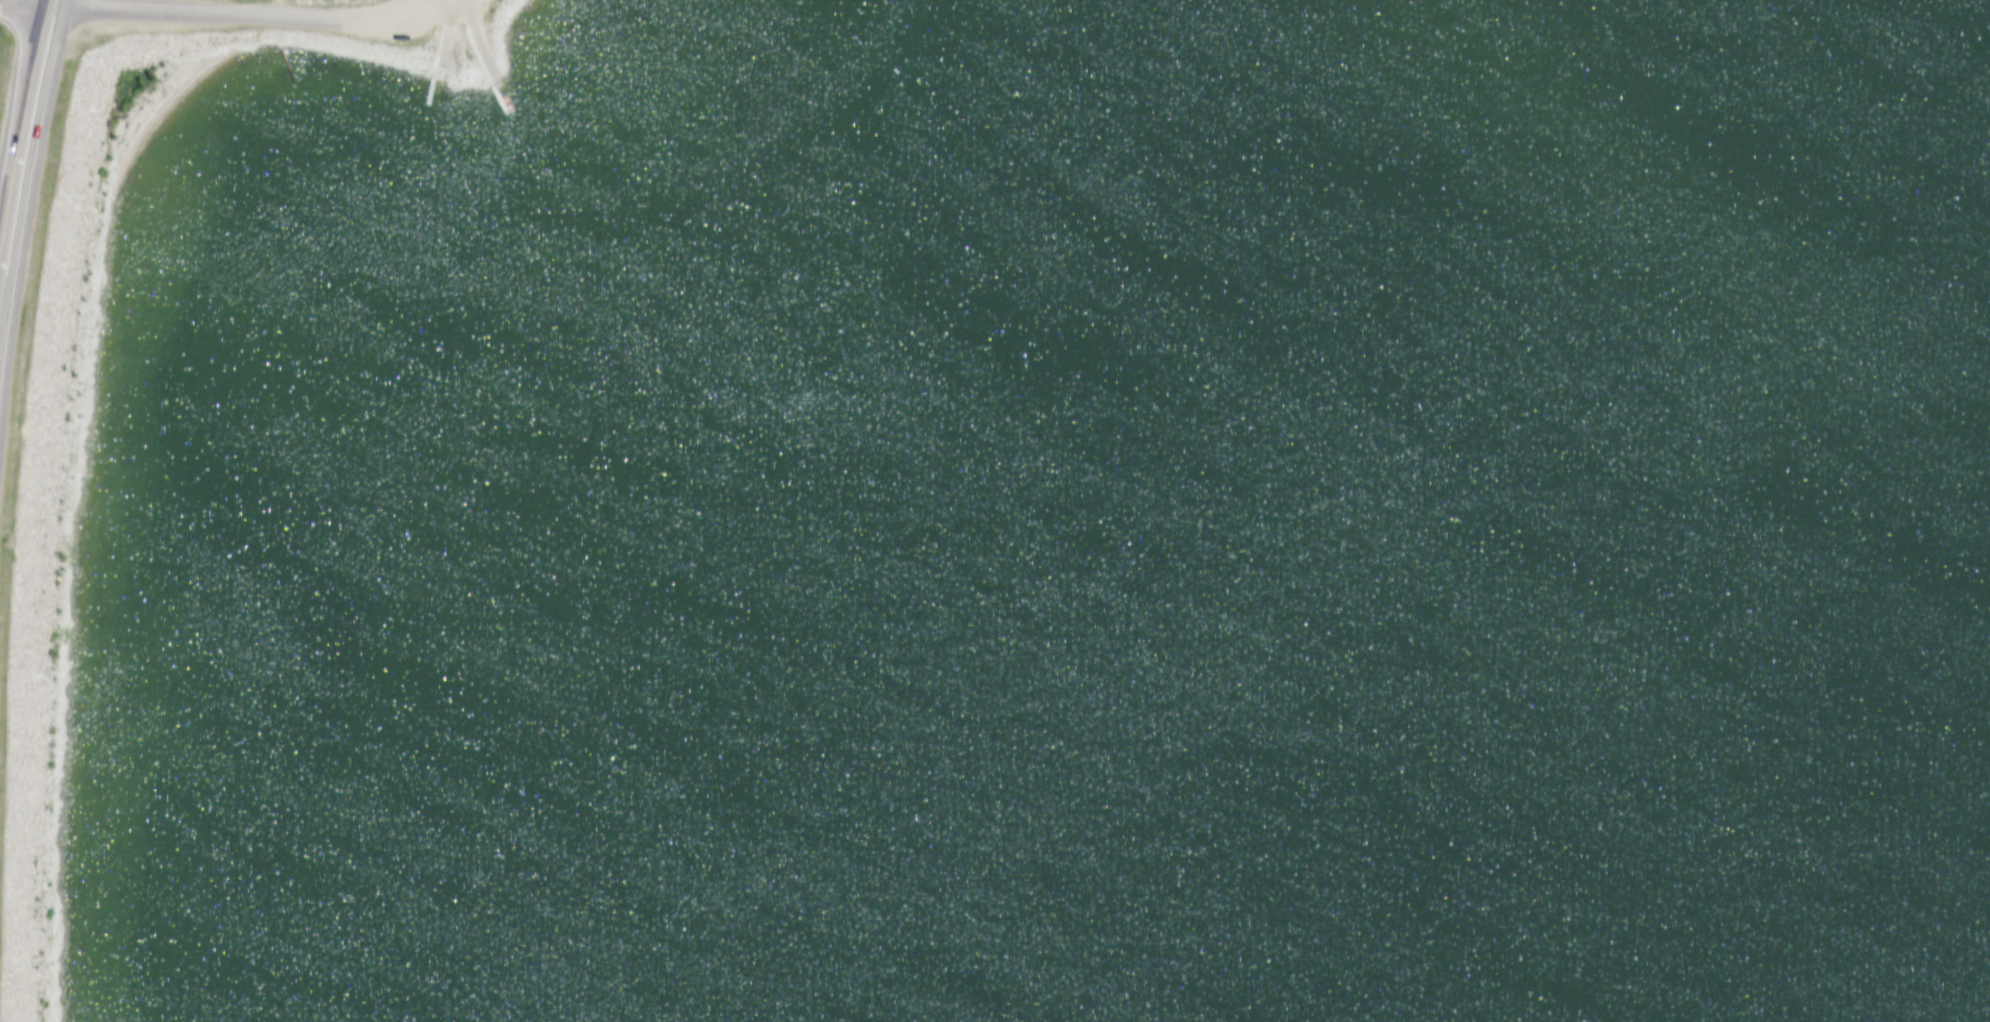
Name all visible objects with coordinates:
road: (61, 1)
road: (97, 139)
road: (42, 649)

